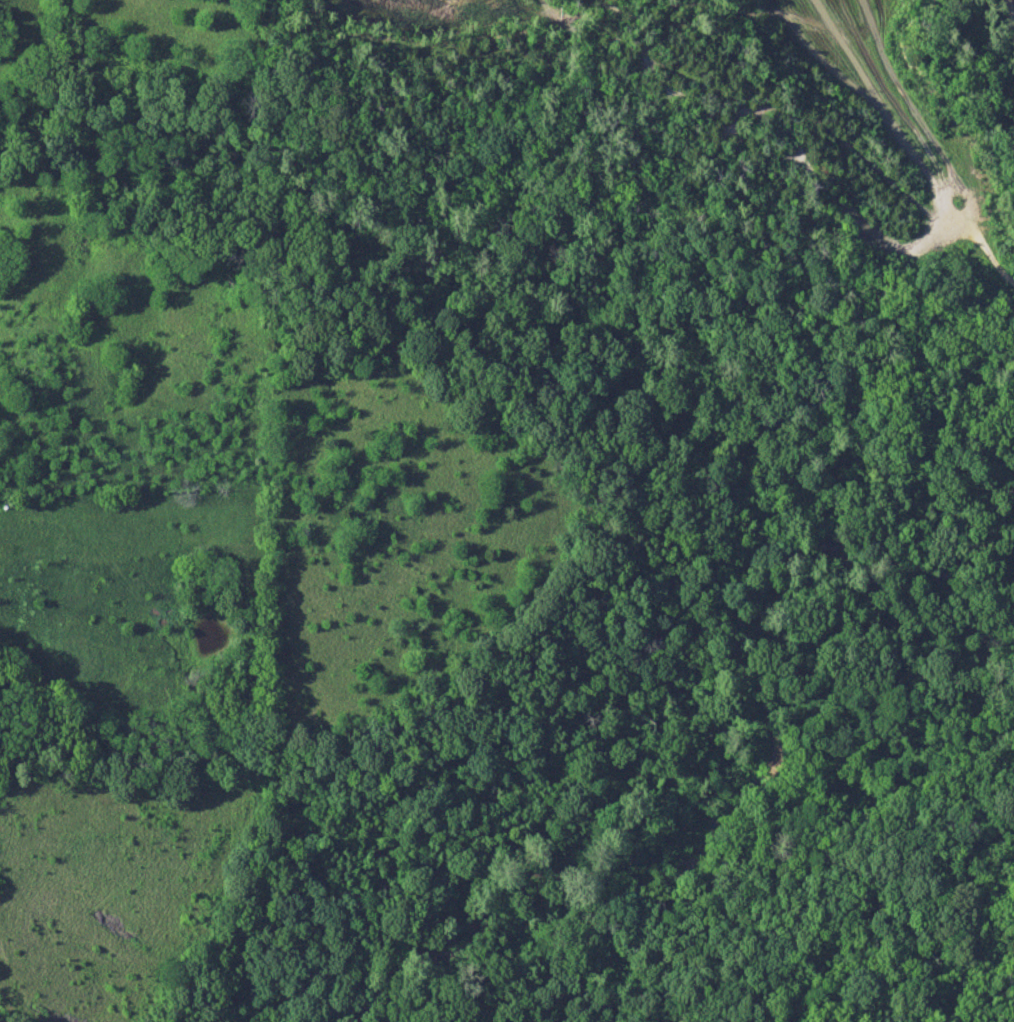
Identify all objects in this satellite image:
road: (1011, 6)

